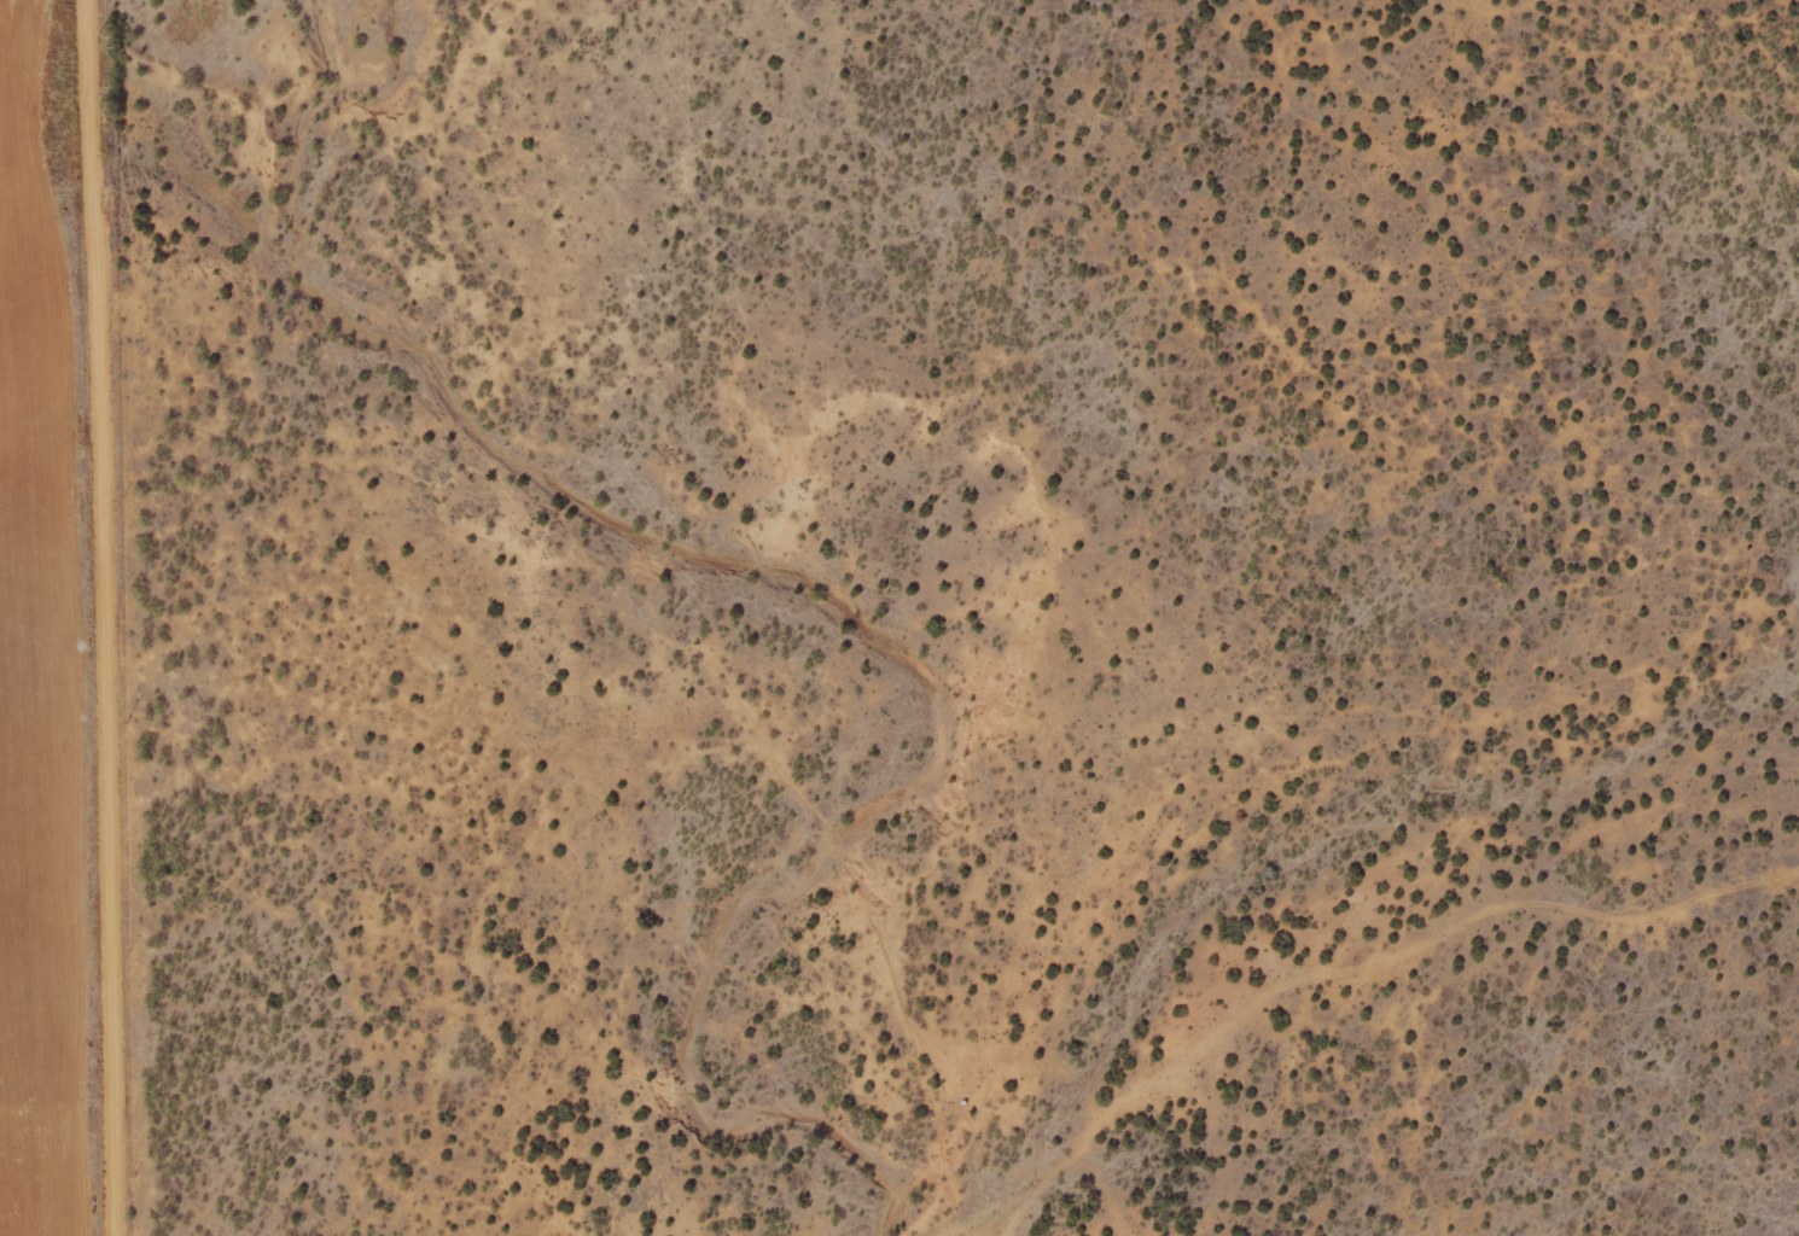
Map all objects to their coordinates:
road: (105, 617)

